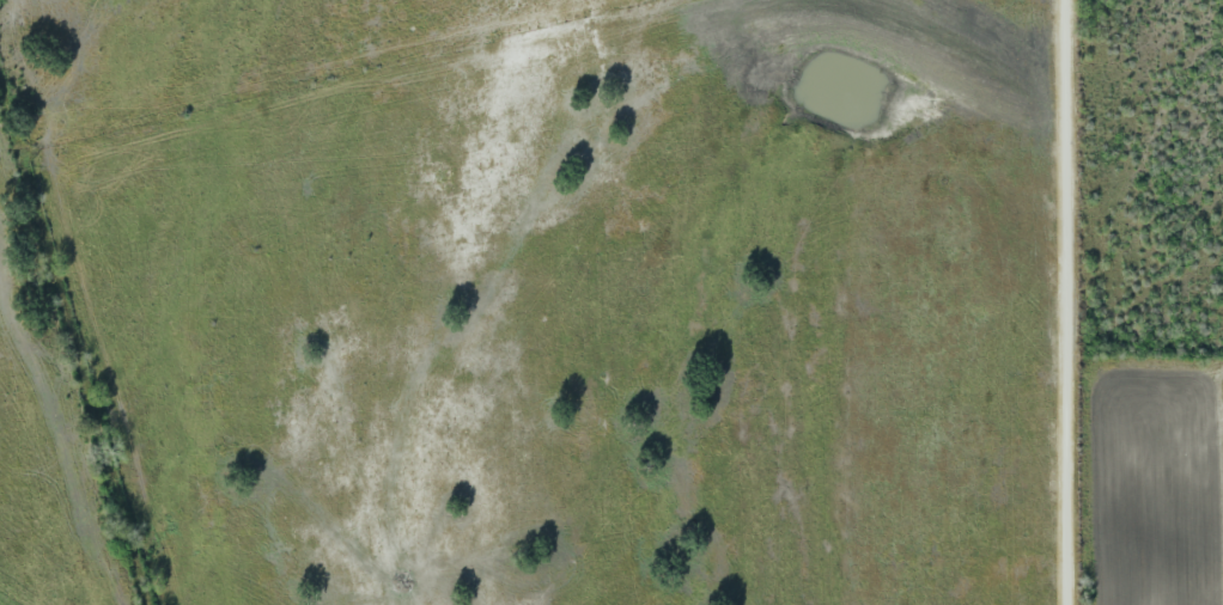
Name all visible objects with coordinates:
road: (1063, 302)

